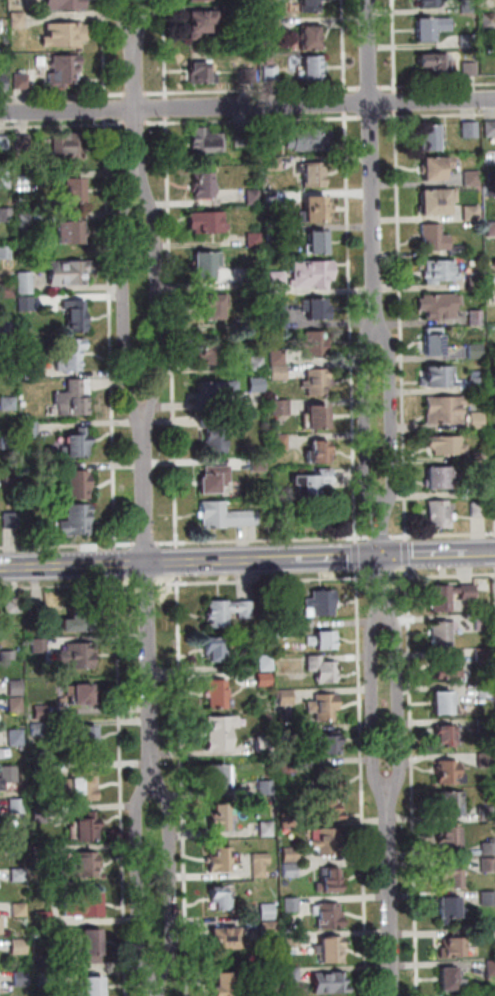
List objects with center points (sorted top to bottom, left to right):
building: (202, 1)
building: (431, 4)
building: (65, 5)
building: (311, 6)
building: (469, 6)
building: (249, 18)
building: (19, 21)
building: (490, 21)
road: (127, 25)
road: (144, 25)
building: (203, 25)
building: (273, 28)
building: (434, 29)
building: (66, 37)
building: (312, 39)
building: (470, 41)
road: (397, 46)
road: (346, 47)
road: (167, 49)
road: (105, 50)
building: (270, 61)
building: (42, 63)
building: (436, 65)
building: (471, 69)
building: (314, 70)
building: (65, 73)
building: (250, 77)
building: (273, 77)
building: (204, 78)
building: (4, 83)
building: (23, 83)
road: (438, 85)
road: (372, 89)
road: (254, 90)
road: (137, 93)
road: (63, 95)
road: (398, 101)
road: (347, 103)
road: (247, 106)
road: (169, 108)
road: (107, 109)
road: (137, 112)
road: (438, 115)
road: (372, 117)
road: (254, 120)
road: (138, 122)
road: (65, 125)
building: (472, 130)
building: (491, 130)
building: (271, 133)
building: (309, 137)
building: (207, 138)
building: (241, 138)
building: (432, 139)
building: (4, 143)
building: (25, 143)
building: (67, 148)
building: (273, 163)
road: (373, 167)
building: (437, 169)
building: (312, 173)
building: (5, 179)
building: (474, 179)
building: (266, 181)
building: (203, 184)
building: (492, 192)
building: (75, 195)
building: (253, 195)
building: (439, 202)
building: (313, 208)
building: (474, 213)
building: (7, 214)
building: (207, 221)
building: (492, 230)
building: (275, 234)
building: (70, 237)
building: (255, 239)
building: (440, 240)
building: (317, 241)
building: (5, 252)
building: (206, 262)
building: (494, 267)
building: (440, 270)
building: (69, 271)
building: (313, 272)
building: (493, 280)
building: (255, 281)
building: (277, 282)
building: (25, 283)
building: (478, 284)
building: (3, 289)
road: (125, 300)
road: (157, 301)
building: (25, 304)
building: (212, 305)
building: (440, 305)
building: (316, 308)
building: (76, 313)
building: (278, 313)
building: (475, 318)
road: (402, 323)
road: (351, 324)
building: (6, 327)
road: (172, 329)
road: (113, 334)
building: (433, 341)
building: (316, 343)
building: (24, 347)
building: (475, 351)
building: (209, 352)
building: (71, 353)
building: (277, 357)
building: (257, 362)
building: (8, 367)
building: (29, 369)
building: (279, 373)
building: (439, 376)
building: (317, 382)
building: (256, 383)
building: (477, 385)
building: (493, 385)
building: (211, 392)
building: (74, 398)
building: (493, 401)
building: (9, 403)
building: (280, 408)
building: (446, 409)
building: (316, 417)
road: (390, 419)
road: (368, 420)
building: (477, 420)
building: (31, 428)
building: (216, 434)
building: (280, 441)
building: (9, 442)
building: (76, 445)
building: (447, 445)
building: (318, 451)
building: (493, 454)
building: (482, 457)
building: (259, 462)
building: (438, 477)
building: (214, 478)
building: (10, 479)
building: (313, 481)
building: (78, 484)
building: (478, 487)
building: (478, 509)
building: (225, 515)
building: (440, 515)
building: (75, 518)
building: (11, 520)
road: (442, 535)
road: (381, 537)
road: (406, 539)
road: (264, 540)
road: (357, 540)
road: (144, 543)
road: (66, 545)
road: (176, 545)
road: (406, 555)
road: (357, 556)
traffic signals: (382, 556)
road: (247, 560)
road: (176, 561)
road: (382, 562)
road: (117, 563)
road: (447, 575)
road: (399, 577)
road: (382, 578)
road: (265, 581)
road: (146, 584)
road: (67, 586)
building: (449, 595)
building: (11, 603)
building: (287, 604)
building: (320, 604)
building: (484, 607)
road: (146, 610)
building: (227, 612)
building: (40, 614)
building: (76, 618)
building: (482, 621)
building: (284, 629)
building: (442, 632)
building: (322, 640)
building: (37, 644)
building: (217, 648)
building: (7, 653)
building: (77, 653)
building: (484, 654)
building: (267, 661)
building: (446, 667)
building: (323, 669)
building: (264, 678)
building: (14, 686)
building: (485, 691)
building: (80, 692)
building: (218, 693)
building: (286, 696)
road: (395, 701)
building: (13, 702)
road: (375, 702)
building: (445, 702)
building: (324, 706)
building: (38, 710)
building: (485, 725)
building: (36, 727)
building: (287, 731)
building: (219, 732)
building: (445, 735)
building: (14, 736)
building: (84, 737)
building: (263, 744)
building: (328, 744)
building: (486, 760)
building: (288, 766)
building: (7, 772)
building: (42, 772)
building: (449, 773)
building: (219, 776)
building: (327, 777)
road: (361, 782)
building: (1, 783)
building: (80, 783)
road: (182, 785)
road: (122, 786)
road: (412, 786)
building: (266, 788)
building: (453, 803)
building: (15, 804)
building: (327, 810)
building: (486, 813)
building: (41, 814)
building: (222, 817)
building: (287, 818)
building: (83, 828)
building: (267, 828)
building: (450, 838)
building: (328, 841)
building: (19, 842)
building: (488, 848)
building: (40, 854)
building: (291, 854)
building: (222, 860)
building: (80, 864)
building: (260, 864)
building: (488, 865)
building: (290, 870)
building: (16, 873)
building: (451, 876)
road: (139, 879)
road: (169, 879)
building: (329, 881)
road: (390, 891)
building: (221, 898)
building: (488, 899)
building: (82, 904)
building: (291, 905)
building: (17, 907)
building: (451, 909)
building: (267, 911)
building: (330, 916)
building: (41, 917)
building: (0, 924)
building: (269, 929)
building: (227, 936)
building: (292, 937)
building: (90, 944)
building: (16, 945)
building: (453, 948)
building: (332, 949)
building: (43, 962)
building: (491, 968)
building: (292, 973)
building: (49, 978)
building: (451, 979)
building: (21, 982)
road: (158, 982)
building: (330, 982)
building: (225, 984)
building: (89, 986)
building: (270, 991)

